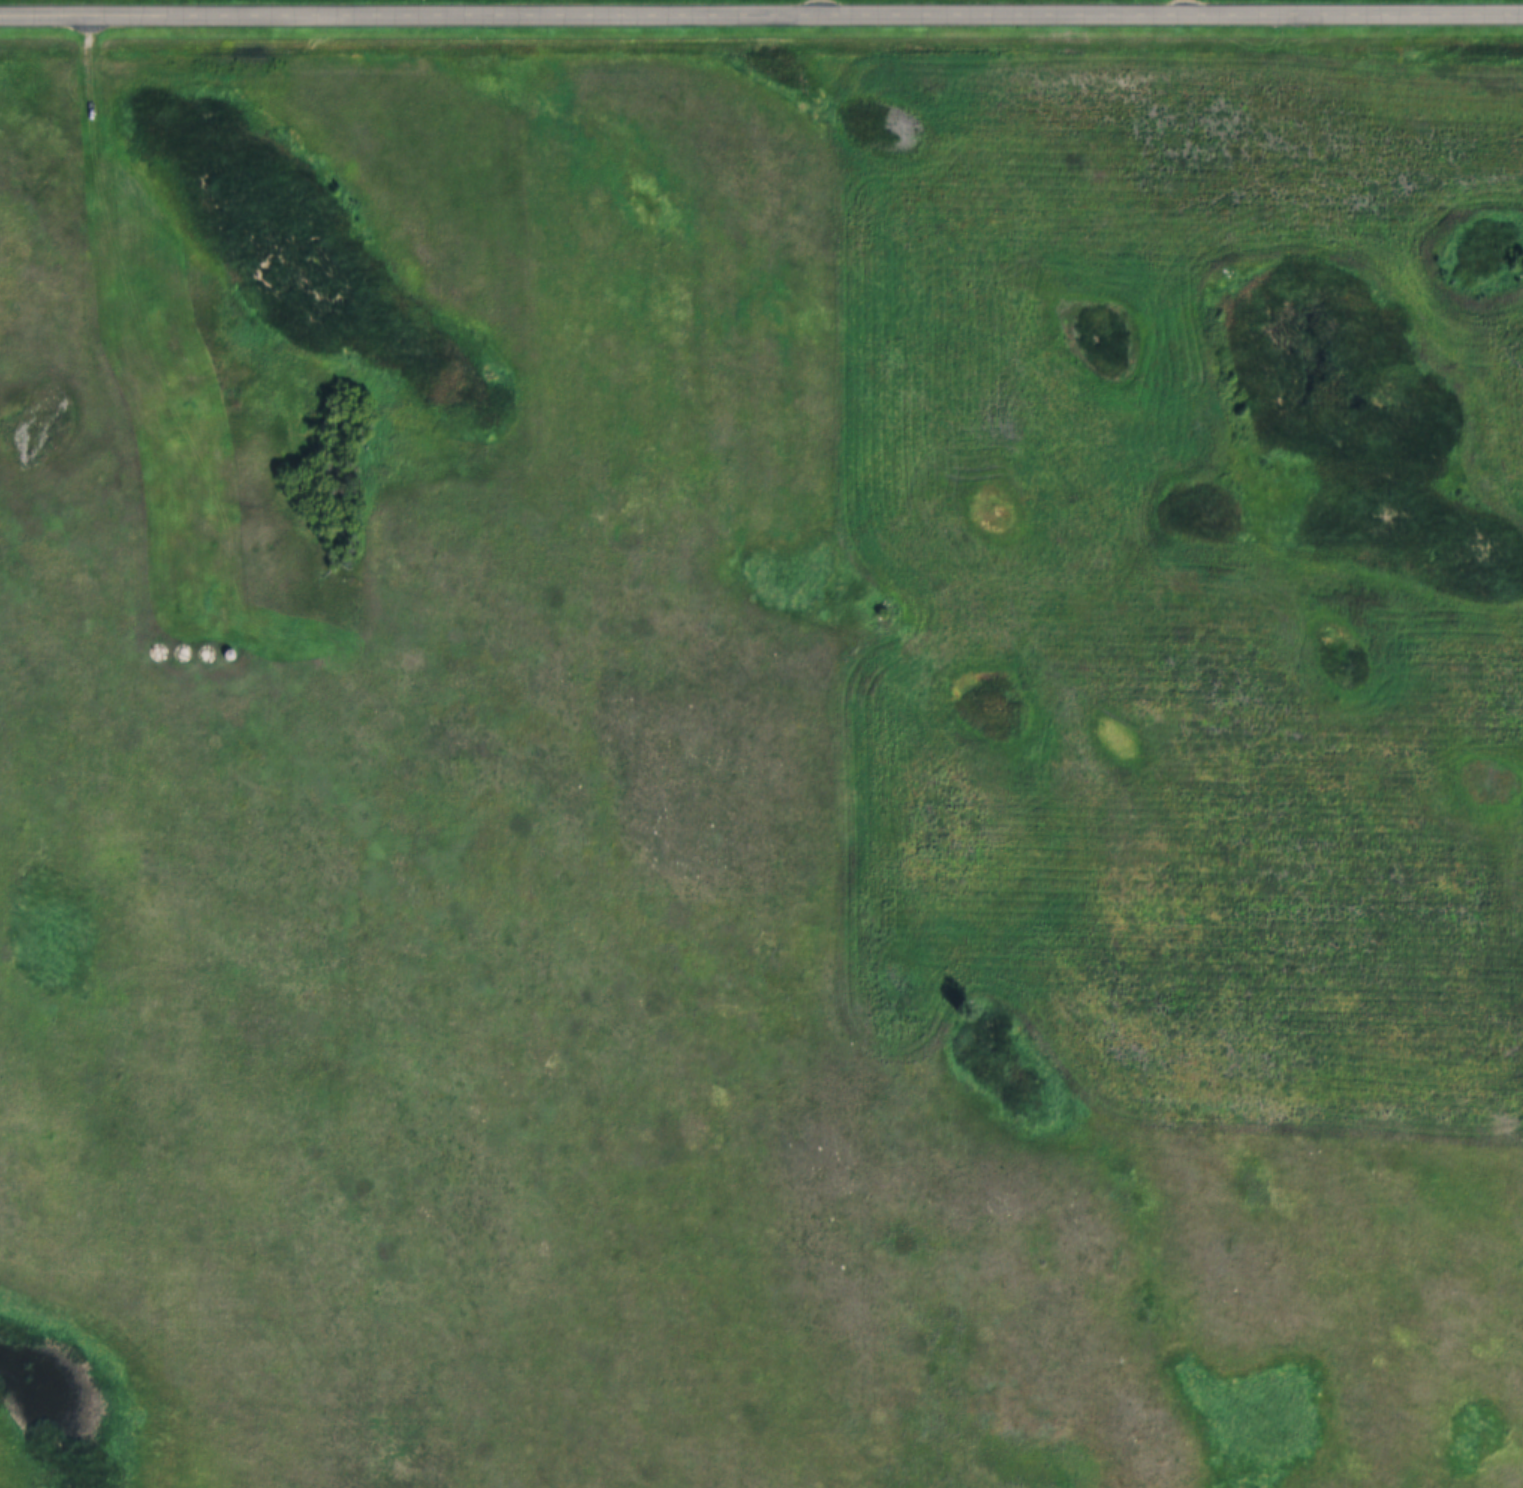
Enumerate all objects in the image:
road: (761, 15)
road: (85, 210)
building: (231, 652)
silo: (231, 652)

